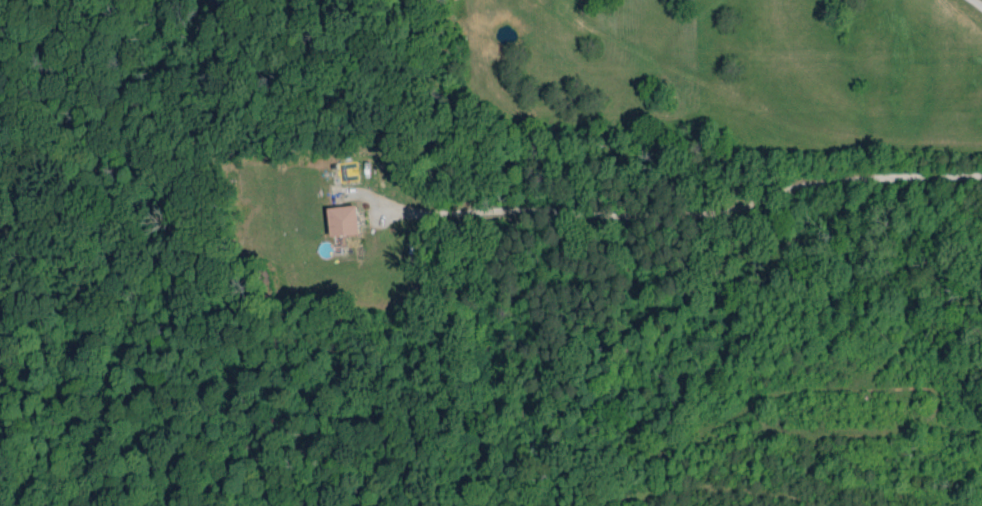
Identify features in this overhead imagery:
road: (977, 3)
road: (684, 215)
building: (343, 220)

